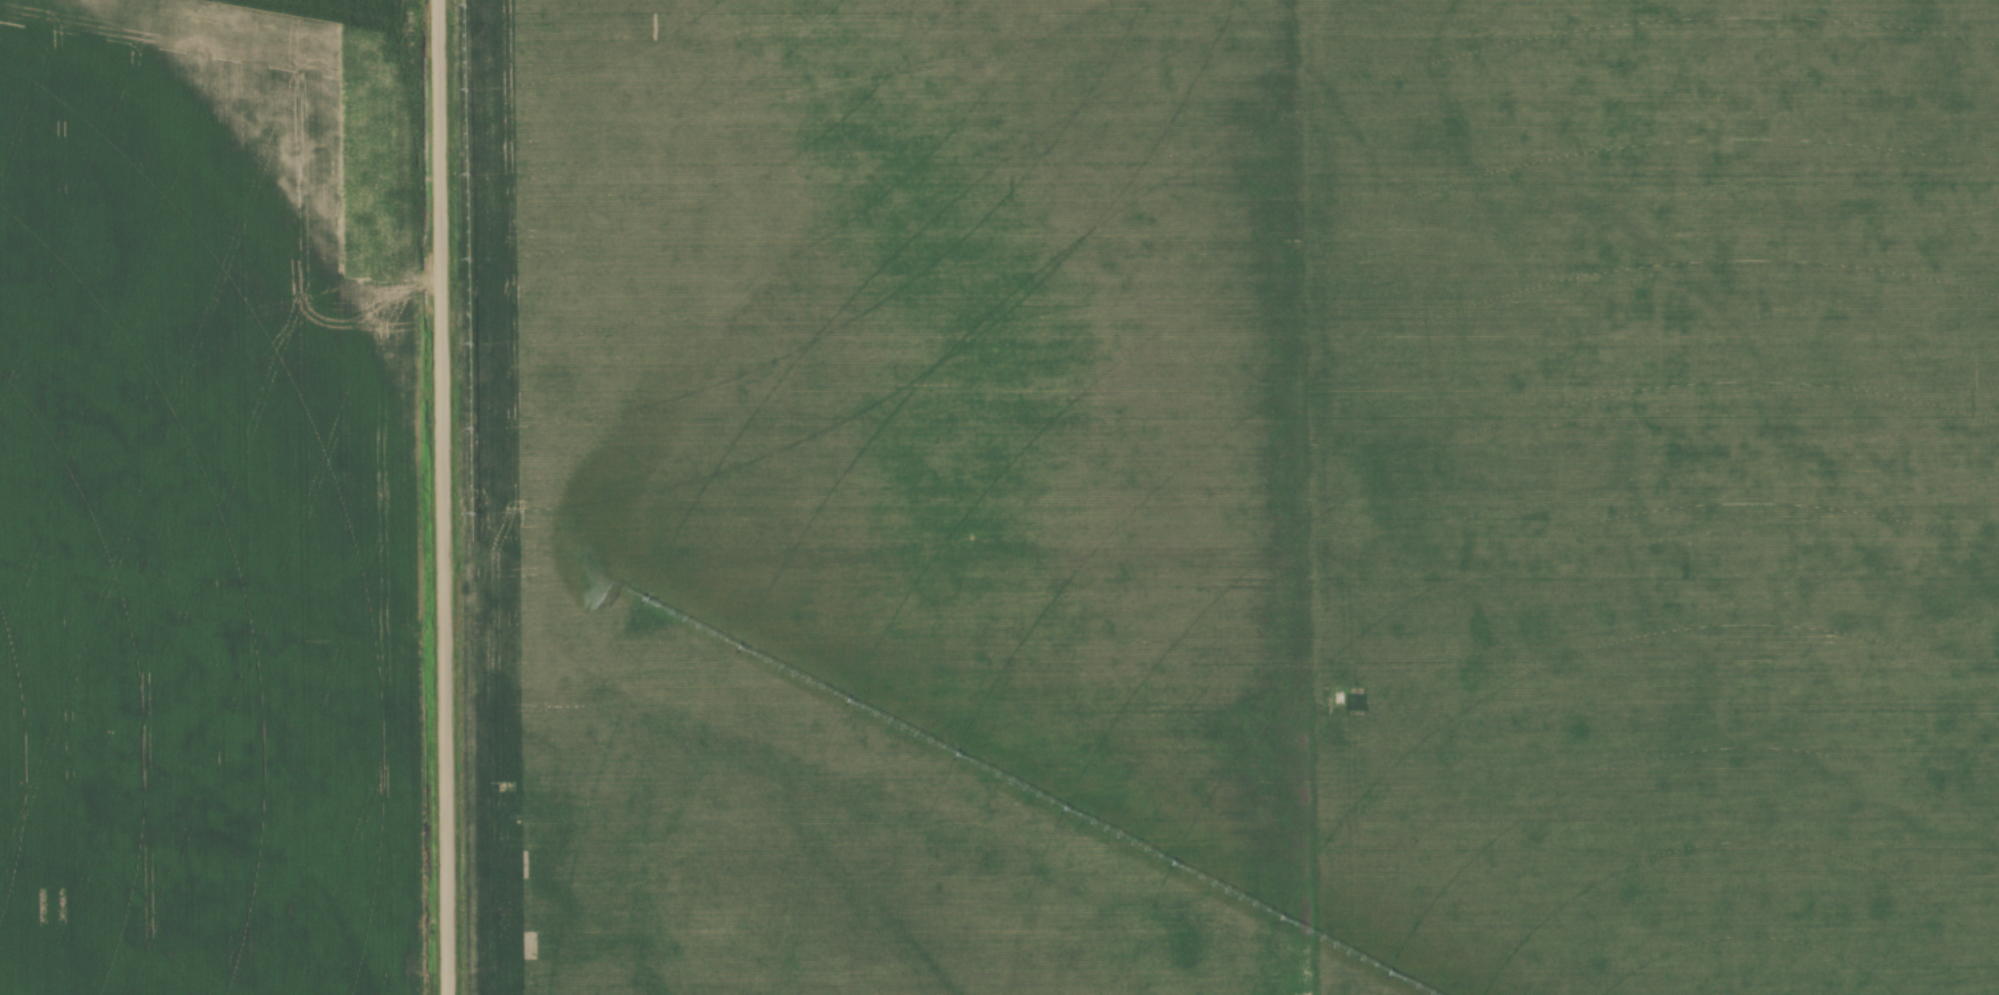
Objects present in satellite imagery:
road: (437, 497)

